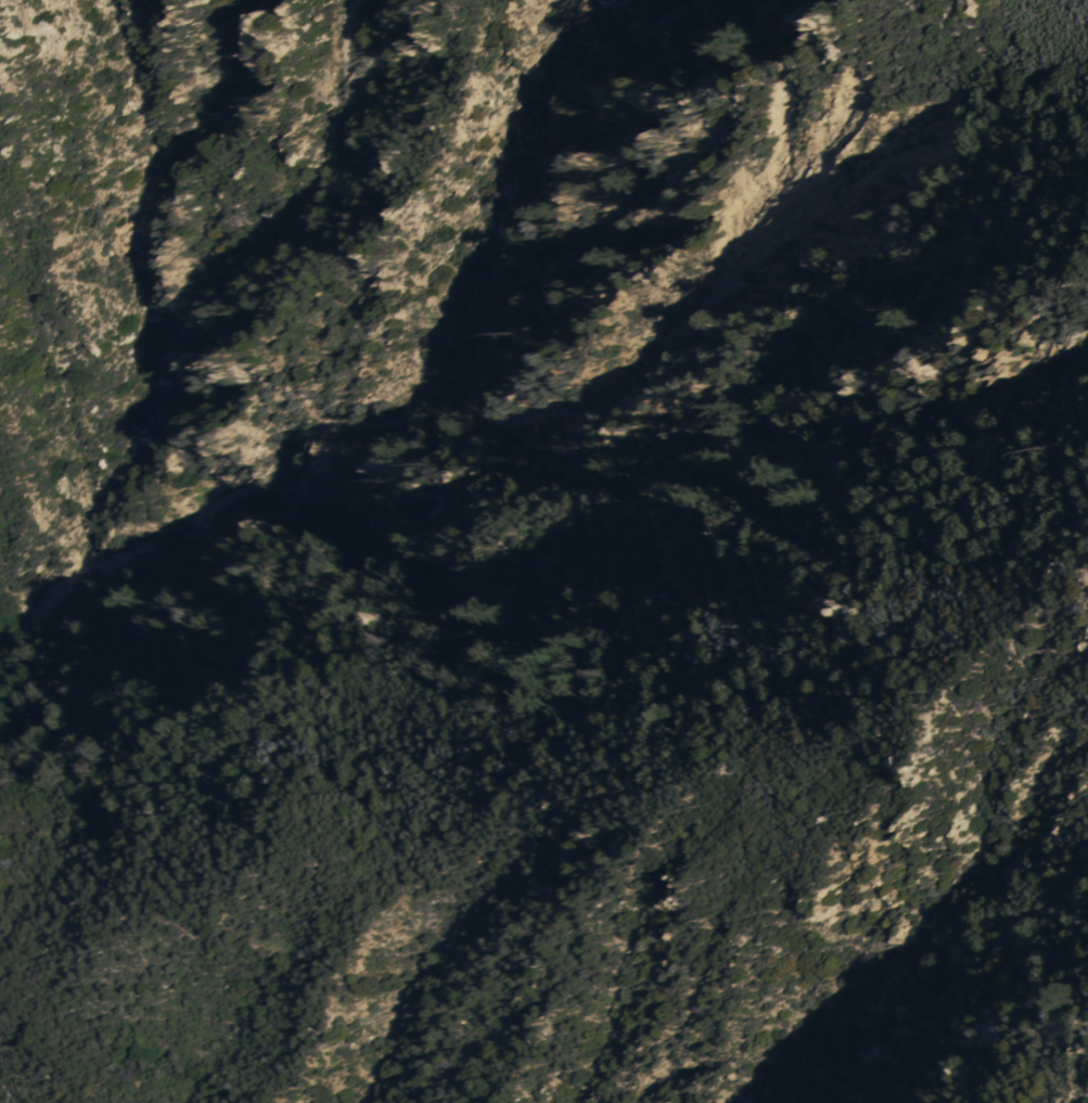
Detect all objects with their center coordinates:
road: (1058, 1091)

